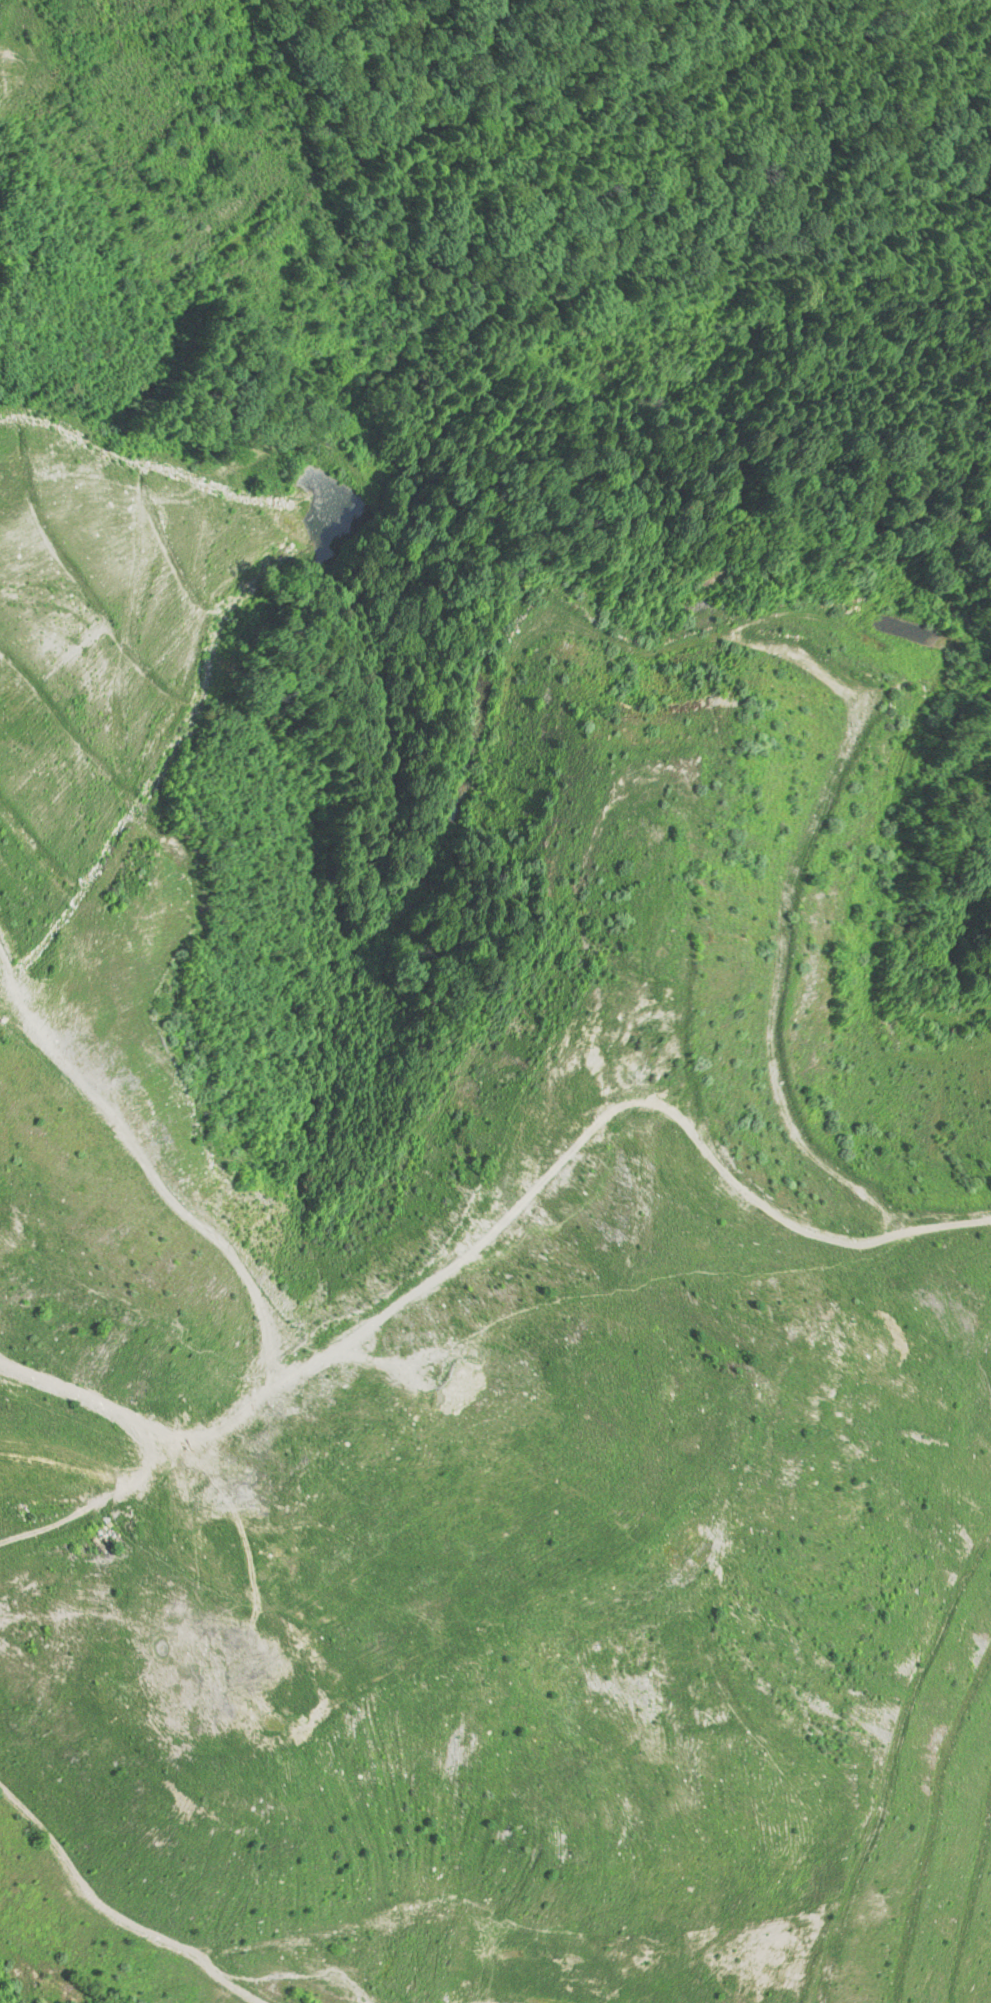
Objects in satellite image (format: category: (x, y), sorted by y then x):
quarry: (3, 110)
quarry: (481, 1253)

